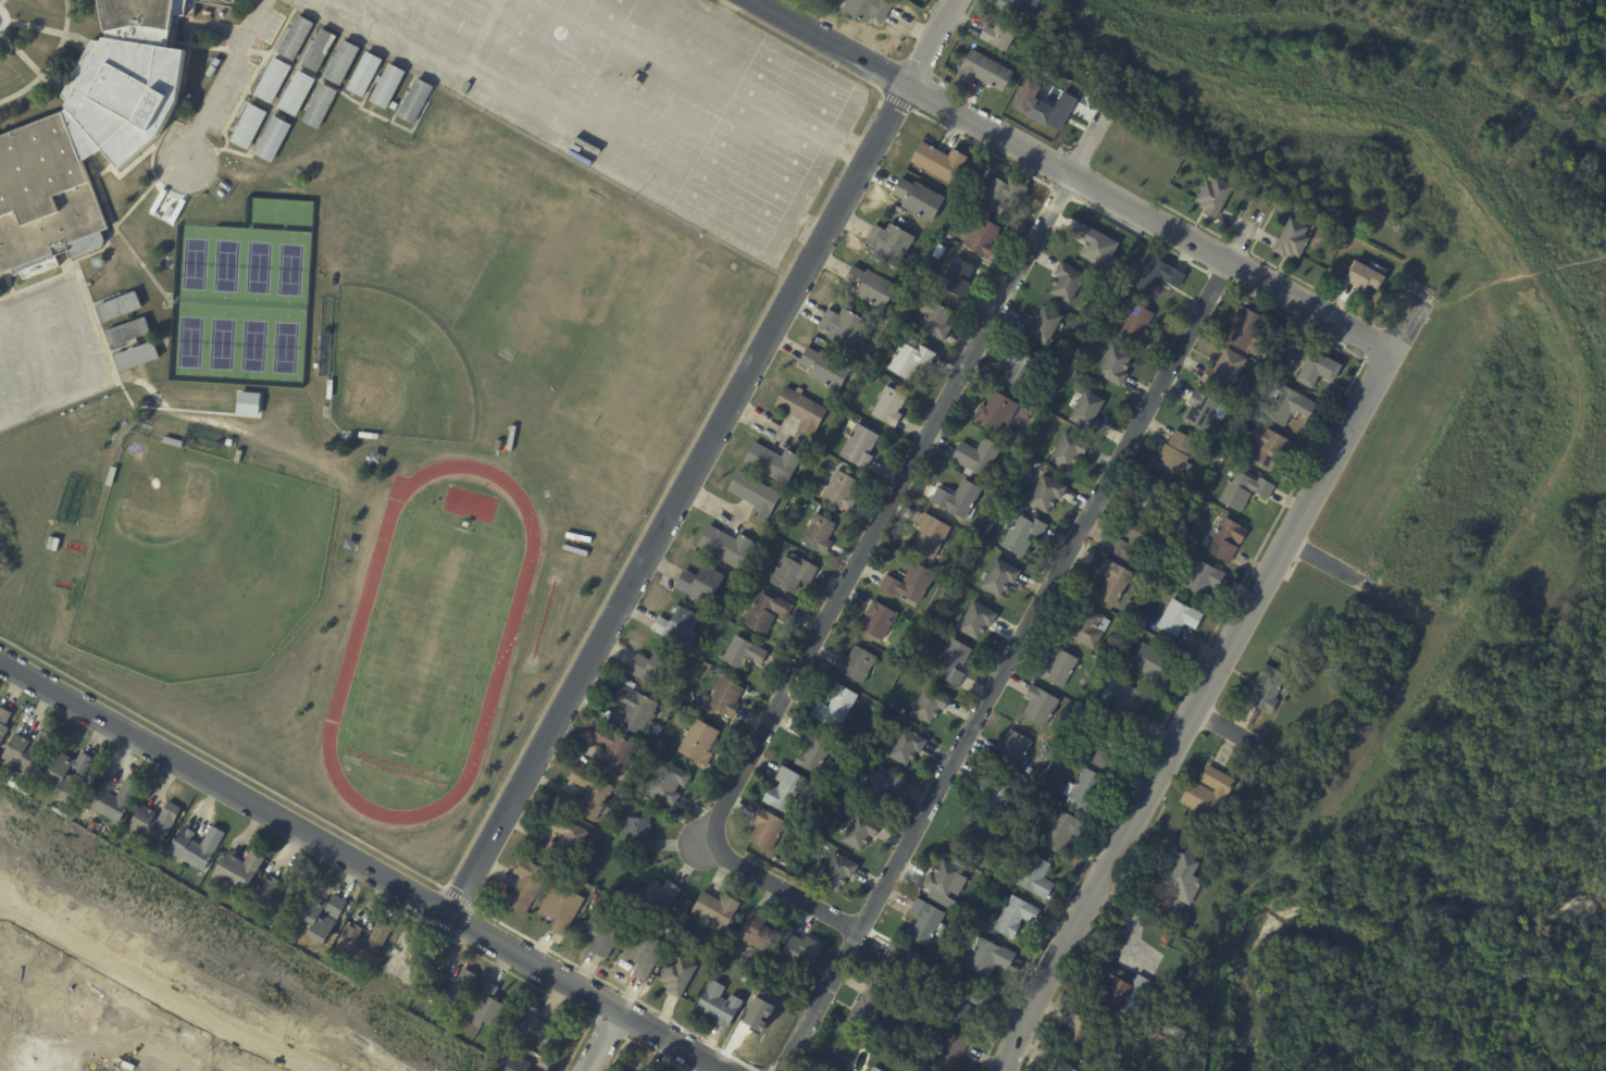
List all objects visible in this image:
road: (0, 0)
road: (499, 1)
road: (189, 5)
building: (1019, 7)
building: (869, 9)
road: (966, 14)
road: (4, 20)
road: (8, 20)
road: (448, 20)
road: (209, 22)
road: (47, 29)
road: (213, 30)
building: (1001, 34)
road: (231, 37)
building: (295, 37)
road: (395, 37)
road: (484, 37)
road: (829, 42)
road: (929, 42)
road: (196, 45)
road: (237, 49)
building: (318, 50)
road: (50, 61)
building: (217, 62)
building: (340, 62)
road: (29, 63)
road: (322, 71)
building: (986, 71)
building: (362, 73)
road: (252, 75)
road: (222, 79)
building: (271, 79)
building: (945, 84)
building: (386, 85)
road: (369, 86)
building: (295, 92)
parking lot: (639, 98)
road: (257, 100)
building: (413, 100)
road: (354, 101)
road: (896, 101)
road: (273, 102)
road: (399, 104)
building: (319, 105)
building: (1042, 105)
road: (172, 112)
building: (247, 125)
building: (87, 136)
building: (271, 138)
road: (532, 138)
road: (980, 148)
road: (102, 159)
building: (937, 162)
road: (123, 170)
road: (1058, 191)
building: (997, 192)
building: (1213, 197)
park: (440, 198)
building: (917, 199)
road: (129, 209)
road: (1146, 220)
road: (119, 233)
road: (1138, 233)
road: (1212, 233)
building: (980, 235)
road: (1185, 239)
building: (887, 240)
building: (1293, 240)
building: (1095, 246)
building: (937, 250)
road: (92, 252)
road: (1262, 261)
road: (63, 262)
park: (194, 263)
park: (225, 265)
building: (909, 266)
park: (257, 267)
park: (288, 269)
road: (5, 273)
park: (552, 273)
building: (1365, 275)
building: (1157, 276)
building: (957, 277)
building: (924, 279)
road: (1217, 279)
building: (1066, 281)
road: (38, 283)
road: (8, 284)
building: (870, 285)
road: (1267, 286)
road: (107, 298)
building: (117, 306)
building: (933, 319)
building: (1042, 324)
building: (1135, 324)
building: (842, 326)
building: (1287, 327)
building: (1242, 328)
building: (126, 332)
dam: (1560, 334)
park: (189, 341)
park: (221, 344)
road: (125, 346)
park: (252, 346)
park: (284, 347)
road: (38, 350)
parking lot: (49, 351)
road: (88, 352)
building: (872, 353)
building: (136, 356)
building: (909, 358)
building: (1013, 364)
building: (1113, 364)
building: (314, 365)
building: (824, 368)
building: (1316, 368)
park: (395, 370)
park: (644, 370)
building: (1223, 371)
building: (1262, 373)
building: (328, 388)
road: (9, 389)
building: (247, 403)
building: (1286, 403)
building: (887, 406)
road: (152, 407)
road: (708, 409)
building: (800, 409)
building: (995, 409)
building: (1202, 410)
building: (1086, 411)
building: (839, 420)
building: (366, 435)
building: (510, 437)
building: (171, 440)
building: (497, 445)
building: (858, 445)
building: (1269, 448)
building: (1068, 450)
building: (1175, 451)
building: (974, 456)
building: (1208, 457)
building: (771, 461)
building: (109, 475)
building: (802, 482)
building: (1242, 488)
building: (837, 489)
building: (1046, 493)
building: (754, 495)
building: (1147, 497)
building: (956, 498)
road: (675, 499)
building: (1192, 499)
building: (794, 500)
building: (780, 527)
building: (986, 528)
building: (1020, 533)
building: (818, 534)
building: (928, 536)
building: (576, 537)
building: (1222, 537)
building: (1130, 540)
building: (724, 546)
building: (573, 549)
road: (857, 556)
park: (198, 562)
road: (1327, 563)
building: (792, 572)
building: (998, 576)
building: (1199, 577)
building: (1110, 581)
building: (699, 583)
building: (908, 583)
building: (1129, 602)
building: (765, 611)
building: (1177, 618)
building: (874, 619)
building: (975, 620)
building: (1119, 621)
building: (1084, 625)
building: (676, 626)
road: (1020, 634)
road: (1204, 647)
building: (742, 653)
building: (1154, 660)
building: (950, 662)
building: (855, 663)
building: (1293, 663)
building: (651, 667)
building: (1057, 668)
road: (1208, 678)
track: (341, 681)
building: (1266, 689)
building: (723, 697)
building: (928, 703)
building: (1038, 706)
building: (1124, 706)
building: (665, 707)
building: (833, 707)
building: (628, 709)
building: (710, 717)
building: (3, 721)
building: (651, 727)
road: (1224, 727)
building: (651, 739)
building: (697, 742)
building: (905, 746)
building: (1009, 748)
building: (811, 749)
building: (29, 751)
building: (610, 751)
building: (1103, 752)
road: (222, 762)
building: (70, 773)
building: (662, 781)
building: (634, 784)
building: (879, 785)
road: (223, 788)
building: (781, 789)
building: (1081, 789)
building: (585, 793)
building: (1207, 793)
building: (991, 794)
building: (113, 799)
building: (849, 804)
building: (602, 813)
building: (1013, 821)
building: (155, 822)
building: (764, 829)
building: (1059, 830)
building: (858, 831)
building: (611, 832)
building: (637, 835)
building: (562, 838)
building: (198, 846)
building: (239, 870)
building: (836, 872)
building: (1029, 873)
building: (1177, 874)
building: (941, 879)
building: (628, 883)
building: (522, 884)
building: (281, 895)
building: (657, 895)
road: (470, 908)
building: (961, 908)
building: (559, 909)
building: (714, 910)
building: (322, 916)
building: (1180, 916)
building: (1013, 917)
building: (922, 922)
building: (755, 932)
building: (600, 934)
building: (366, 942)
building: (799, 950)
building: (642, 955)
building: (984, 957)
building: (1195, 974)
building: (676, 975)
building: (745, 979)
road: (522, 980)
road: (613, 987)
road: (159, 991)
building: (446, 992)
road: (584, 994)
building: (1130, 1002)
building: (717, 1004)
building: (964, 1004)
building: (489, 1008)
building: (868, 1011)
building: (537, 1030)
road: (609, 1030)
building: (482, 1031)
building: (1078, 1032)
building: (913, 1036)
road: (601, 1042)
road: (639, 1045)
building: (947, 1053)
building: (511, 1062)
building: (1061, 1067)
road: (769, 1068)
road: (318, 1069)
building: (873, 1069)

